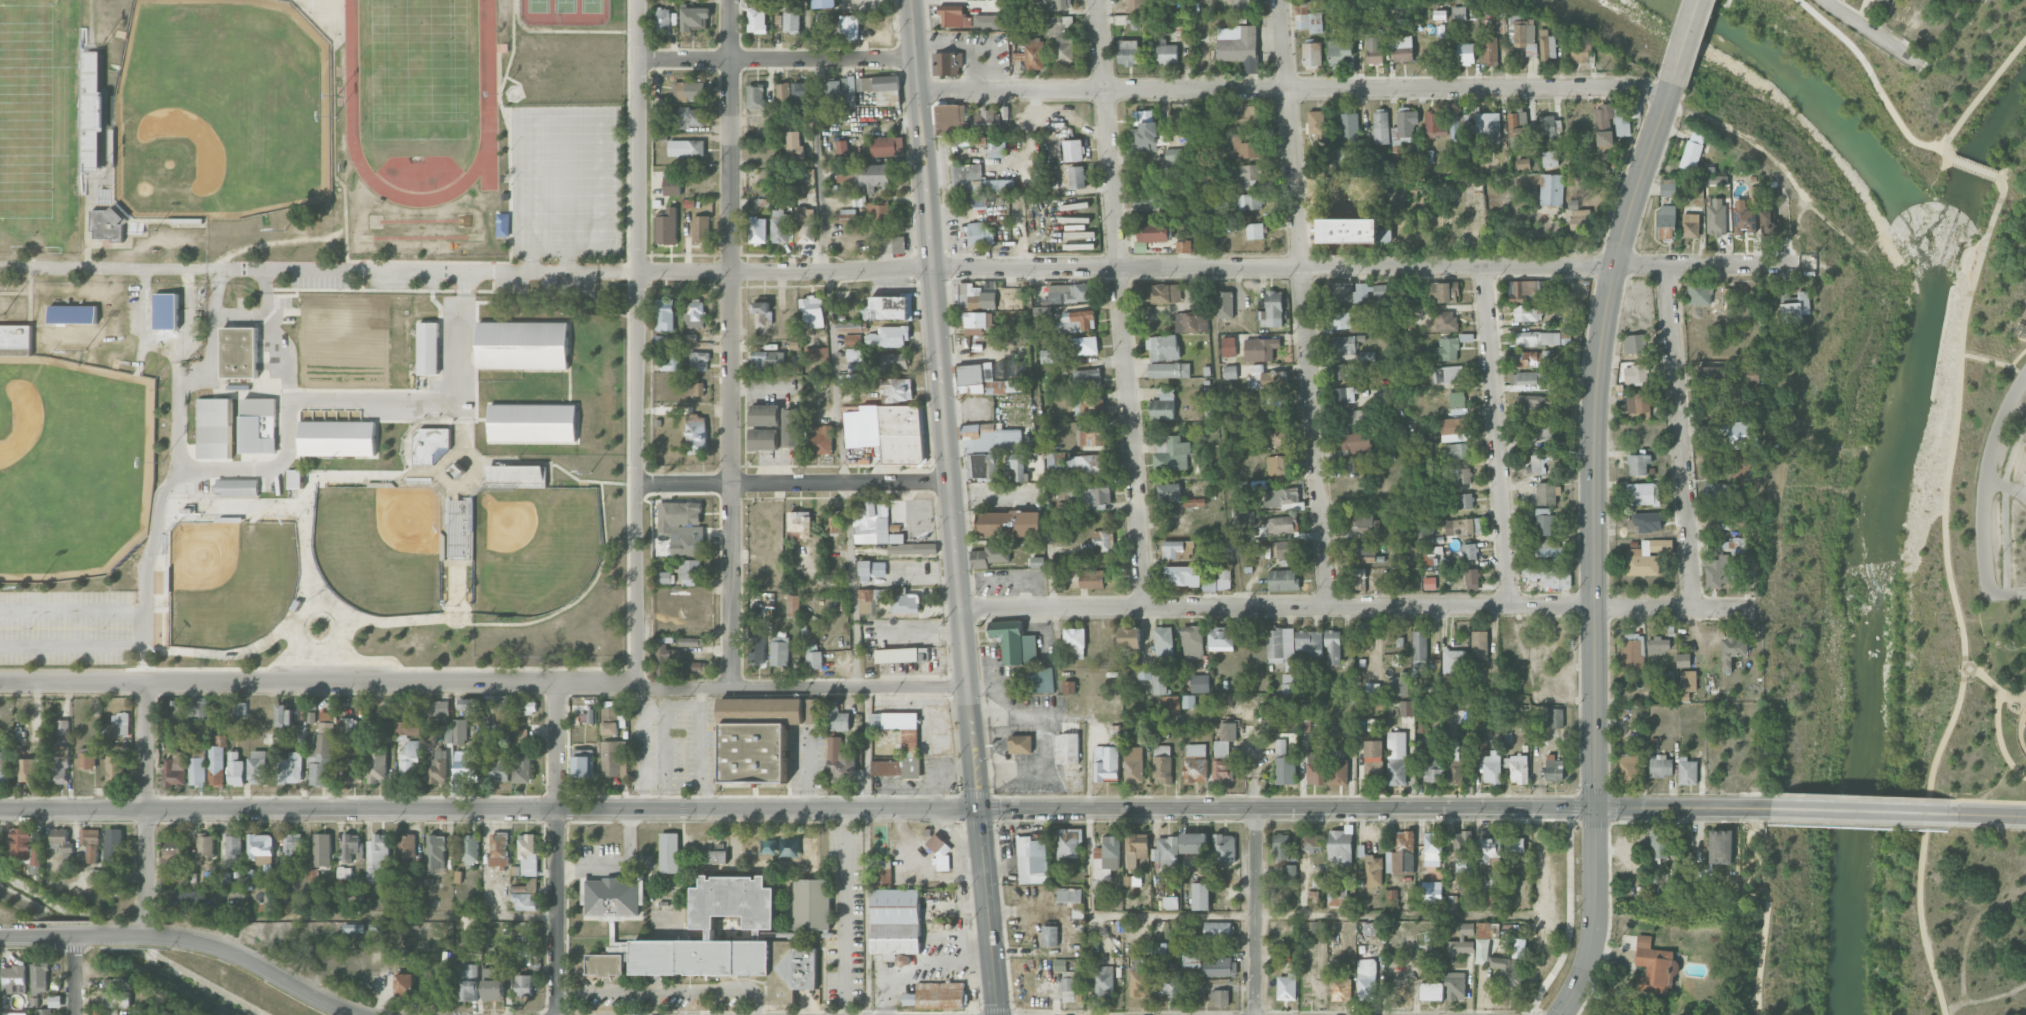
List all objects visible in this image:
building: (1885, 0)
building: (823, 3)
building: (1057, 4)
park: (538, 5)
park: (592, 5)
building: (1134, 5)
building: (1240, 5)
park: (564, 6)
building: (1459, 13)
building: (1440, 14)
building: (953, 16)
building: (694, 18)
building: (757, 18)
building: (792, 18)
building: (665, 20)
building: (986, 21)
building: (1315, 22)
building: (1135, 23)
building: (851, 28)
road: (1871, 32)
building: (1525, 35)
building: (1060, 39)
road: (1686, 44)
building: (1547, 45)
building: (1238, 46)
building: (1375, 48)
building: (1403, 48)
building: (1489, 50)
building: (1166, 51)
building: (1127, 52)
building: (1340, 52)
building: (1581, 52)
building: (1035, 53)
building: (1312, 54)
building: (1466, 54)
road: (778, 59)
building: (950, 62)
track: (487, 66)
park: (419, 69)
park: (1989, 69)
road: (1874, 77)
building: (881, 87)
road: (1281, 90)
building: (688, 91)
building: (838, 91)
road: (1655, 92)
building: (792, 93)
building: (755, 96)
road: (1980, 97)
park: (221, 109)
building: (90, 111)
building: (1244, 116)
building: (691, 117)
building: (1604, 117)
building: (989, 120)
building: (955, 124)
building: (1317, 124)
building: (1435, 124)
building: (1349, 126)
building: (1381, 126)
building: (1404, 126)
building: (1487, 126)
building: (1549, 126)
building: (1454, 127)
building: (1518, 129)
building: (1144, 138)
building: (1604, 138)
building: (794, 142)
building: (887, 146)
building: (686, 147)
building: (841, 147)
building: (997, 147)
building: (1238, 147)
building: (1073, 149)
building: (1693, 149)
building: (1465, 151)
building: (1550, 158)
building: (1175, 160)
building: (1523, 163)
road: (1974, 167)
building: (1248, 175)
building: (843, 177)
building: (871, 177)
building: (1077, 177)
building: (1715, 179)
building: (979, 183)
building: (671, 185)
building: (1668, 187)
building: (1551, 189)
building: (859, 200)
building: (1144, 201)
building: (1249, 201)
building: (878, 211)
building: (850, 214)
building: (1716, 215)
building: (1581, 219)
building: (1744, 219)
building: (1667, 221)
building: (1769, 223)
building: (107, 224)
building: (805, 225)
building: (1690, 225)
building: (780, 226)
building: (667, 227)
building: (700, 228)
building: (757, 230)
building: (1255, 231)
building: (1353, 231)
building: (977, 233)
building: (1151, 234)
building: (899, 244)
building: (1182, 246)
road: (1366, 266)
road: (467, 270)
building: (1347, 291)
building: (1379, 291)
building: (1444, 292)
building: (1068, 293)
building: (1163, 293)
building: (1785, 293)
building: (1699, 295)
building: (975, 297)
building: (1528, 298)
road: (1120, 303)
building: (1225, 304)
road: (1305, 304)
building: (887, 308)
building: (1274, 308)
building: (1796, 308)
building: (167, 310)
building: (813, 310)
building: (762, 312)
building: (73, 314)
road: (262, 314)
building: (664, 314)
building: (695, 315)
road: (144, 320)
building: (1340, 320)
building: (1446, 320)
building: (1075, 321)
building: (977, 322)
building: (1191, 323)
road: (214, 326)
building: (850, 326)
road: (187, 331)
building: (15, 335)
building: (889, 337)
building: (1544, 337)
building: (853, 340)
road: (638, 342)
building: (1634, 342)
building: (1343, 343)
road: (730, 344)
road: (832, 344)
building: (522, 345)
building: (1084, 345)
building: (1228, 346)
building: (1163, 347)
building: (428, 348)
building: (1260, 348)
building: (1446, 349)
building: (239, 352)
building: (816, 354)
building: (855, 354)
building: (1367, 355)
building: (1052, 356)
building: (768, 359)
building: (671, 361)
building: (700, 361)
building: (894, 361)
road: (2013, 363)
building: (1169, 370)
building: (1343, 371)
building: (1448, 374)
building: (1636, 374)
building: (1711, 375)
building: (1267, 377)
building: (1086, 378)
building: (1530, 378)
building: (1754, 378)
building: (846, 379)
building: (984, 380)
building: (897, 388)
building: (695, 389)
building: (1344, 394)
road: (436, 400)
building: (1457, 402)
building: (1529, 402)
road: (944, 403)
building: (1163, 405)
building: (1639, 405)
building: (1089, 406)
building: (1275, 406)
building: (1245, 413)
building: (764, 414)
building: (1356, 417)
building: (532, 423)
building: (259, 425)
road: (2001, 426)
building: (791, 427)
building: (214, 428)
building: (1455, 429)
building: (1540, 430)
building: (1740, 433)
building: (901, 434)
building: (696, 435)
road: (1496, 435)
road: (1679, 435)
building: (337, 438)
building: (1090, 438)
building: (1280, 438)
road: (288, 439)
building: (763, 439)
building: (819, 439)
building: (1354, 442)
building: (997, 444)
building: (431, 446)
building: (1457, 450)
building: (1170, 452)
building: (1091, 464)
building: (1279, 464)
building: (1348, 464)
building: (1540, 464)
building: (1639, 464)
building: (982, 467)
building: (1741, 468)
building: (457, 471)
building: (516, 474)
road: (2024, 474)
building: (1460, 475)
building: (294, 478)
parking lot: (2022, 481)
road: (794, 483)
building: (237, 487)
building: (1240, 488)
road: (2006, 488)
building: (1716, 491)
building: (1169, 493)
building: (1546, 493)
building: (1644, 494)
road: (990, 495)
building: (1282, 498)
building: (1464, 501)
building: (1194, 502)
road: (2004, 505)
building: (833, 521)
road: (1046, 521)
building: (1544, 521)
building: (1653, 521)
road: (158, 522)
building: (1009, 523)
building: (798, 524)
building: (872, 524)
building: (1281, 524)
building: (1363, 524)
building: (683, 526)
building: (1463, 526)
building: (461, 528)
river: (1875, 535)
building: (1103, 540)
building: (1036, 546)
building: (913, 548)
building: (1283, 548)
building: (1178, 549)
building: (1549, 550)
road: (1594, 550)
building: (1470, 551)
building: (1362, 552)
road: (1984, 554)
building: (990, 555)
building: (1646, 557)
building: (912, 565)
building: (865, 568)
building: (691, 571)
building: (1717, 571)
building: (1549, 575)
building: (1183, 576)
building: (664, 577)
building: (1093, 578)
building: (1472, 579)
building: (1218, 580)
building: (1282, 580)
park: (1882, 580)
building: (1429, 583)
road: (1953, 595)
building: (870, 599)
building: (906, 603)
building: (793, 605)
road: (1356, 607)
road: (73, 611)
building: (1130, 637)
building: (1221, 638)
building: (691, 641)
building: (1015, 642)
building: (1074, 642)
building: (1192, 642)
building: (1309, 643)
building: (1479, 643)
building: (1163, 644)
building: (1658, 645)
building: (1281, 647)
building: (1333, 647)
building: (779, 650)
building: (1733, 650)
building: (760, 652)
building: (902, 654)
building: (814, 657)
park: (2005, 657)
building: (664, 658)
building: (1396, 659)
building: (1453, 659)
building: (1683, 660)
building: (696, 666)
building: (1041, 679)
road: (483, 680)
building: (1154, 680)
building: (1200, 683)
building: (1687, 684)
building: (1402, 685)
building: (1069, 687)
road: (2015, 687)
road: (2022, 695)
road: (2011, 697)
building: (1188, 701)
building: (499, 702)
building: (1171, 704)
building: (469, 705)
building: (433, 707)
building: (527, 707)
building: (197, 708)
building: (240, 709)
building: (812, 710)
road: (2023, 711)
road: (2024, 714)
building: (285, 715)
building: (838, 718)
building: (1307, 718)
building: (1556, 718)
road: (1997, 718)
road: (2014, 718)
building: (610, 720)
building: (118, 726)
building: (62, 727)
building: (407, 727)
building: (459, 731)
road: (2019, 731)
building: (448, 733)
building: (1114, 735)
building: (519, 736)
building: (756, 737)
building: (903, 737)
building: (1224, 739)
road: (1045, 740)
road: (554, 744)
building: (1021, 744)
building: (1067, 747)
building: (1455, 750)
building: (197, 752)
building: (322, 752)
building: (1373, 752)
building: (613, 757)
building: (1397, 757)
building: (409, 758)
building: (87, 759)
building: (582, 762)
building: (840, 762)
building: (1195, 762)
building: (1456, 762)
building: (464, 763)
building: (1105, 763)
building: (216, 764)
building: (377, 764)
building: (1134, 764)
building: (1161, 764)
building: (1284, 764)
building: (59, 765)
building: (3, 766)
building: (1661, 766)
building: (114, 767)
building: (258, 767)
building: (496, 767)
building: (886, 767)
building: (1315, 767)
building: (1493, 767)
building: (290, 768)
building: (438, 768)
building: (1517, 768)
building: (1554, 768)
building: (175, 769)
building: (236, 769)
building: (523, 769)
building: (1629, 769)
building: (29, 770)
building: (352, 770)
building: (1223, 770)
building: (197, 771)
building: (1339, 771)
building: (1433, 771)
building: (1687, 771)
building: (1454, 775)
road: (2008, 801)
traffic signals: (978, 807)
road: (1287, 807)
road: (1683, 807)
road: (277, 808)
road: (766, 808)
traffic signals: (1596, 808)
road: (146, 809)
road: (1865, 810)
road: (1993, 814)
building: (61, 839)
building: (1311, 840)
building: (91, 843)
building: (114, 843)
building: (1069, 843)
building: (1194, 843)
building: (1514, 844)
building: (1660, 844)
building: (1433, 845)
building: (26, 846)
building: (352, 846)
building: (769, 846)
building: (1281, 846)
building: (1341, 846)
building: (1720, 846)
building: (205, 847)
building: (234, 847)
building: (292, 847)
building: (789, 847)
building: (1224, 847)
building: (471, 848)
building: (1136, 848)
building: (261, 849)
building: (322, 849)
building: (499, 849)
building: (1489, 849)
building: (406, 851)
building: (670, 851)
road: (867, 851)
building: (1168, 851)
building: (1463, 851)
building: (436, 852)
building: (1402, 853)
building: (376, 854)
building: (528, 854)
building: (717, 856)
building: (1107, 856)
building: (172, 859)
building: (1033, 860)
road: (1761, 860)
road: (620, 866)
building: (110, 871)
building: (1374, 871)
building: (1702, 871)
building: (344, 872)
building: (883, 872)
building: (1285, 875)
building: (313, 878)
building: (1132, 880)
building: (416, 882)
road: (1761, 886)
building: (1492, 887)
building: (1431, 891)
building: (1069, 894)
building: (612, 896)
building: (1201, 896)
building: (1337, 896)
building: (190, 897)
building: (525, 900)
building: (1171, 902)
building: (268, 903)
building: (812, 903)
road: (988, 910)
road: (1089, 910)
road: (1255, 910)
road: (555, 911)
road: (843, 911)
road: (1366, 913)
building: (895, 921)
building: (1217, 929)
building: (1318, 931)
building: (1050, 935)
road: (184, 940)
building: (1461, 941)
building: (725, 942)
building: (1482, 942)
road: (1760, 957)
building: (1196, 959)
building: (1510, 964)
building: (1218, 965)
building: (1654, 967)
road: (74, 975)
building: (1139, 976)
building: (40, 978)
building: (14, 979)
building: (1367, 979)
building: (468, 980)
building: (1104, 980)
building: (406, 984)
building: (494, 984)
building: (524, 985)
building: (1170, 985)
building: (1455, 985)
building: (1068, 986)
building: (1287, 987)
building: (1341, 990)
road: (666, 991)
building: (1431, 991)
building: (118, 993)
building: (937, 995)
building: (1220, 997)
building: (44, 1011)
building: (15, 1013)
park: (2024, 1014)

